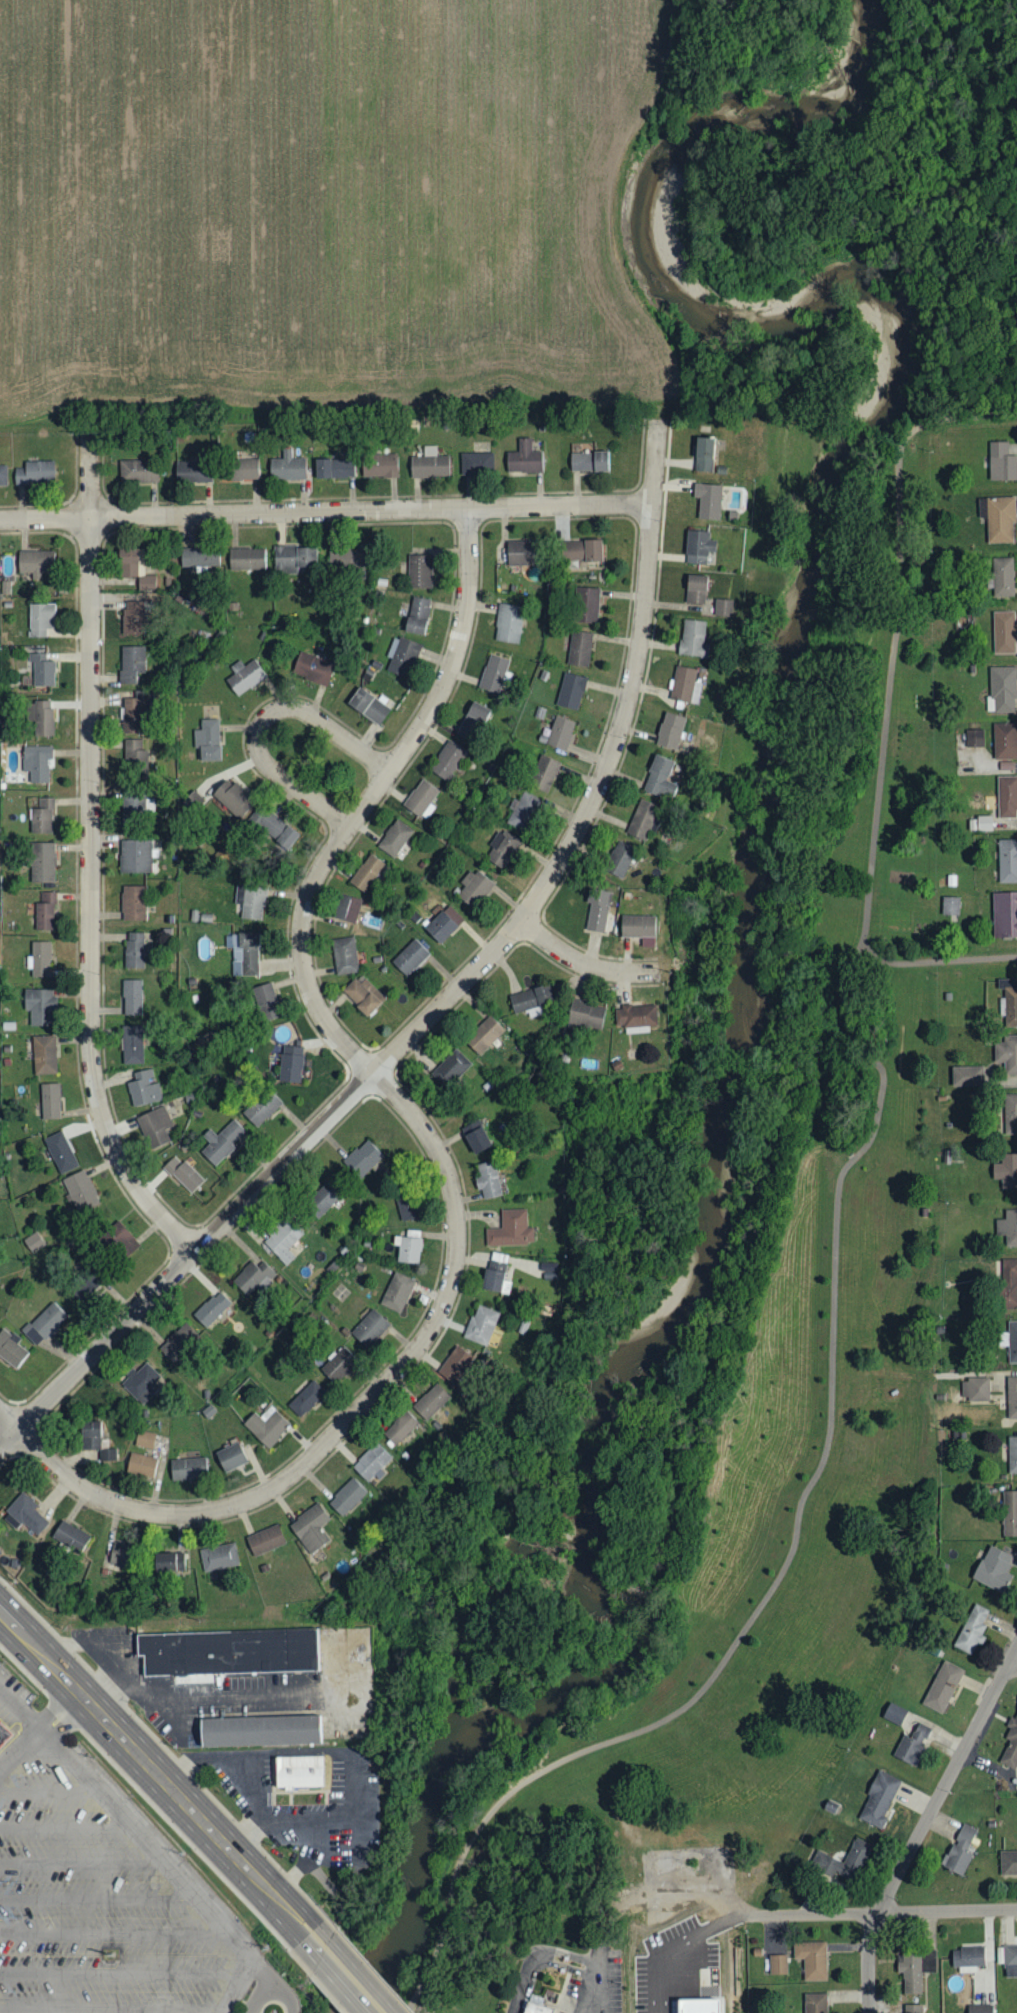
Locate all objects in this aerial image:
road: (864, 170)
road: (840, 203)
road: (863, 221)
road: (862, 248)
road: (966, 289)
road: (986, 325)
building: (704, 454)
building: (523, 459)
building: (595, 461)
building: (1001, 462)
building: (476, 463)
building: (429, 464)
building: (380, 465)
building: (287, 467)
building: (334, 468)
building: (239, 469)
building: (138, 471)
building: (34, 472)
building: (192, 472)
building: (3, 475)
building: (708, 501)
road: (326, 510)
building: (1000, 520)
building: (698, 547)
building: (581, 551)
building: (521, 553)
building: (198, 559)
building: (246, 559)
building: (292, 559)
building: (36, 563)
building: (135, 568)
building: (420, 572)
building: (1002, 577)
building: (696, 589)
building: (587, 605)
building: (723, 608)
building: (417, 615)
building: (133, 618)
building: (40, 619)
building: (508, 623)
building: (1004, 633)
building: (693, 639)
building: (579, 649)
building: (401, 656)
building: (131, 663)
building: (313, 668)
building: (42, 670)
building: (495, 673)
building: (244, 677)
building: (685, 685)
building: (1002, 690)
building: (571, 691)
building: (368, 706)
building: (134, 716)
building: (40, 719)
road: (263, 719)
building: (472, 723)
building: (670, 731)
building: (560, 733)
building: (975, 738)
building: (208, 741)
building: (1005, 741)
building: (135, 754)
building: (447, 761)
building: (36, 762)
building: (543, 774)
building: (659, 778)
building: (1007, 797)
building: (232, 800)
building: (422, 800)
building: (192, 802)
building: (137, 806)
building: (523, 811)
building: (42, 817)
building: (642, 820)
building: (980, 824)
building: (278, 831)
building: (395, 838)
building: (502, 849)
road: (89, 850)
building: (136, 855)
building: (619, 859)
building: (1007, 860)
building: (41, 862)
building: (367, 872)
building: (473, 887)
building: (133, 902)
building: (252, 902)
building: (950, 905)
building: (347, 908)
building: (45, 911)
building: (1004, 913)
building: (596, 917)
building: (443, 923)
building: (638, 927)
river: (750, 934)
building: (134, 949)
building: (244, 952)
building: (344, 955)
building: (410, 956)
road: (937, 958)
building: (39, 959)
road: (955, 961)
road: (583, 962)
building: (361, 994)
building: (132, 997)
road: (447, 997)
building: (530, 998)
building: (1009, 999)
building: (266, 1001)
building: (39, 1005)
building: (586, 1014)
building: (636, 1017)
building: (483, 1036)
building: (131, 1044)
building: (1007, 1053)
building: (44, 1054)
building: (290, 1064)
building: (450, 1067)
building: (967, 1075)
building: (143, 1088)
building: (49, 1100)
building: (262, 1107)
building: (1008, 1113)
building: (155, 1126)
road: (427, 1134)
building: (475, 1136)
building: (220, 1142)
building: (60, 1152)
building: (362, 1159)
building: (1006, 1170)
building: (182, 1173)
building: (487, 1180)
building: (80, 1190)
building: (321, 1199)
building: (407, 1208)
building: (1008, 1227)
building: (511, 1229)
building: (119, 1239)
building: (283, 1239)
road: (838, 1241)
building: (33, 1242)
building: (407, 1249)
building: (496, 1265)
building: (253, 1277)
building: (1009, 1283)
building: (397, 1292)
building: (211, 1309)
building: (44, 1323)
building: (481, 1324)
building: (369, 1328)
building: (1012, 1341)
building: (178, 1342)
building: (11, 1348)
building: (338, 1363)
building: (455, 1364)
building: (140, 1383)
building: (975, 1389)
building: (1012, 1397)
building: (306, 1398)
building: (430, 1401)
road: (9, 1420)
building: (266, 1426)
building: (400, 1427)
building: (90, 1435)
building: (144, 1439)
building: (1012, 1454)
building: (107, 1455)
building: (230, 1457)
building: (372, 1462)
building: (141, 1465)
building: (187, 1469)
building: (347, 1497)
building: (1010, 1513)
building: (25, 1514)
building: (310, 1528)
building: (70, 1536)
building: (265, 1540)
building: (120, 1554)
building: (218, 1557)
building: (168, 1562)
building: (993, 1569)
river: (467, 1615)
building: (971, 1630)
building: (227, 1651)
road: (1012, 1668)
building: (942, 1687)
road: (50, 1711)
building: (894, 1714)
road: (66, 1722)
building: (260, 1730)
road: (111, 1731)
building: (4, 1735)
building: (1011, 1744)
building: (912, 1745)
road: (22, 1755)
road: (222, 1764)
building: (299, 1770)
road: (47, 1789)
road: (145, 1799)
building: (879, 1799)
road: (313, 1812)
road: (64, 1826)
road: (924, 1826)
road: (148, 1847)
building: (959, 1850)
building: (855, 1856)
road: (81, 1861)
building: (1008, 1863)
road: (273, 1880)
parking lot: (93, 1897)
road: (98, 1898)
road: (257, 1898)
road: (869, 1914)
road: (114, 1933)
road: (665, 1949)
road: (538, 1956)
building: (968, 1958)
building: (812, 1959)
building: (1010, 1960)
building: (777, 1965)
road: (354, 1968)
building: (916, 1968)
road: (123, 1971)
road: (332, 1978)
road: (593, 1981)
road: (277, 1982)
road: (317, 1982)
road: (602, 1982)
road: (259, 1994)
building: (815, 2003)
building: (697, 2006)
road: (112, 2008)
building: (537, 2008)
building: (913, 2009)
building: (980, 2009)

